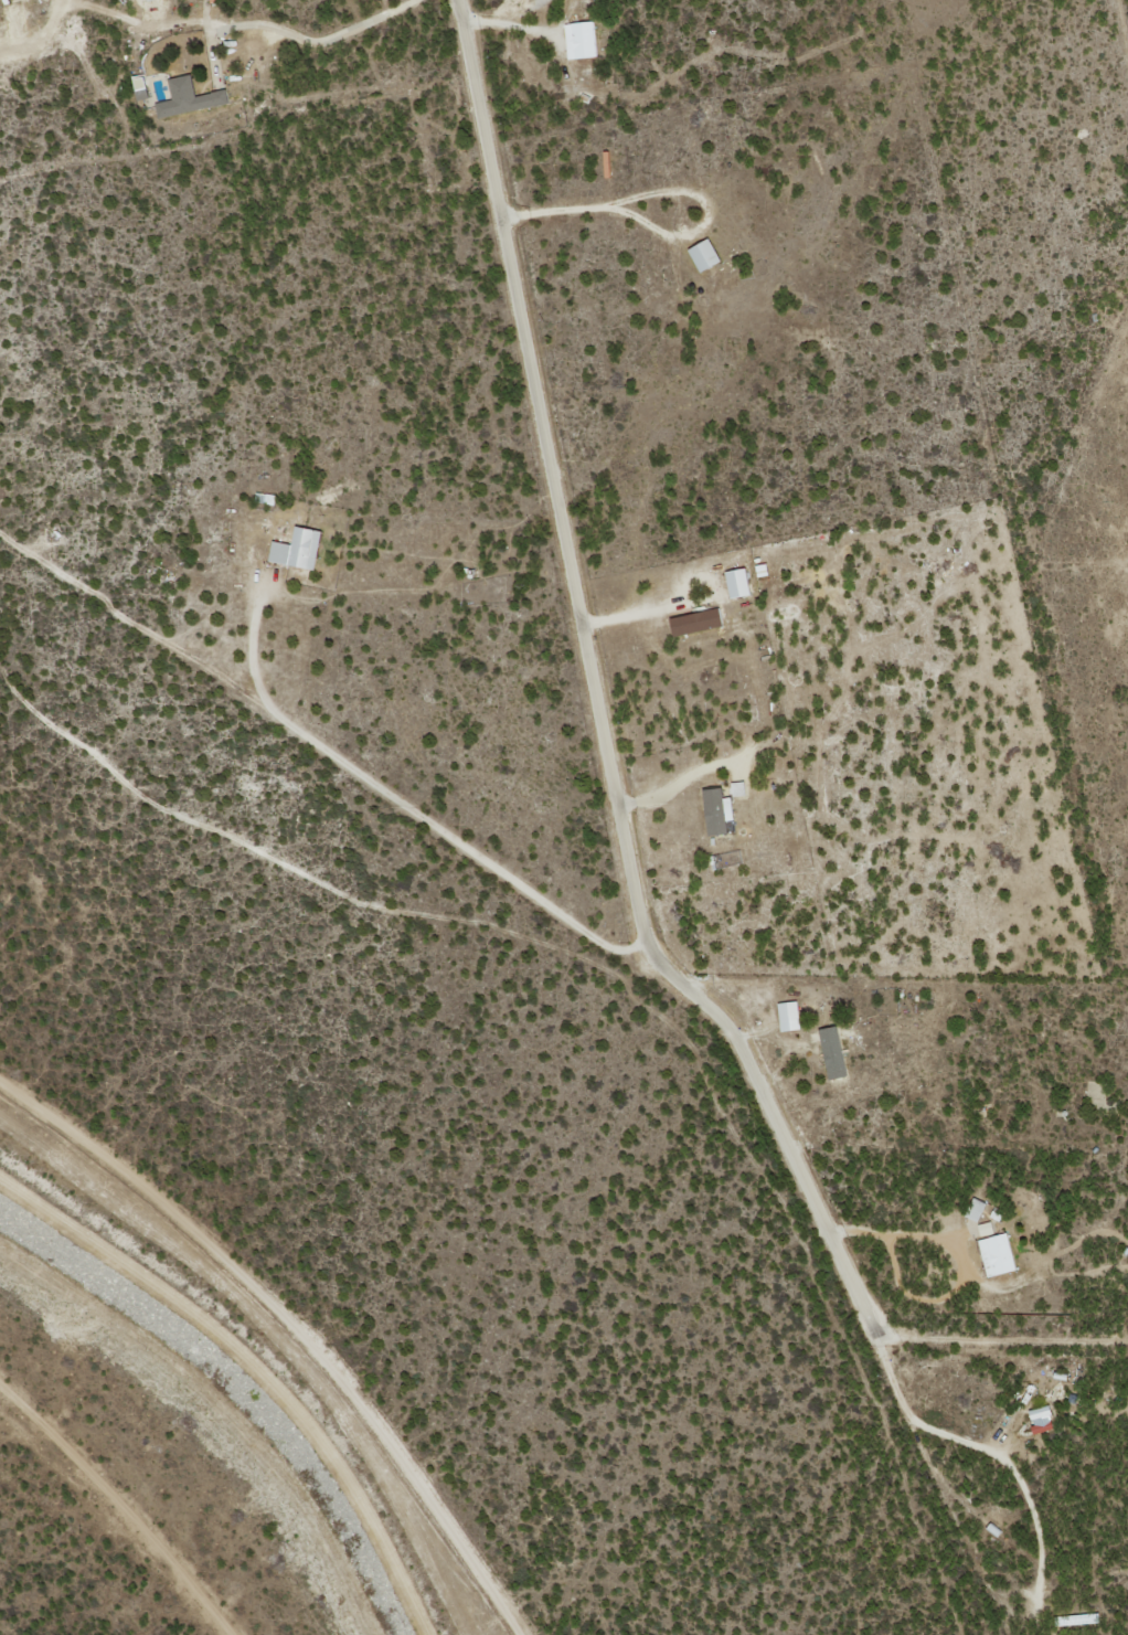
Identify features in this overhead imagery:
building: (583, 39)
building: (191, 97)
building: (707, 255)
building: (300, 549)
building: (742, 582)
building: (699, 622)
road: (593, 698)
building: (742, 788)
building: (722, 811)
building: (792, 1016)
building: (838, 1052)
building: (978, 1209)
building: (988, 1229)
building: (1000, 1255)
road: (292, 1327)
road: (1002, 1339)
road: (257, 1366)
dam: (219, 1373)
building: (1045, 1420)
road: (119, 1506)

